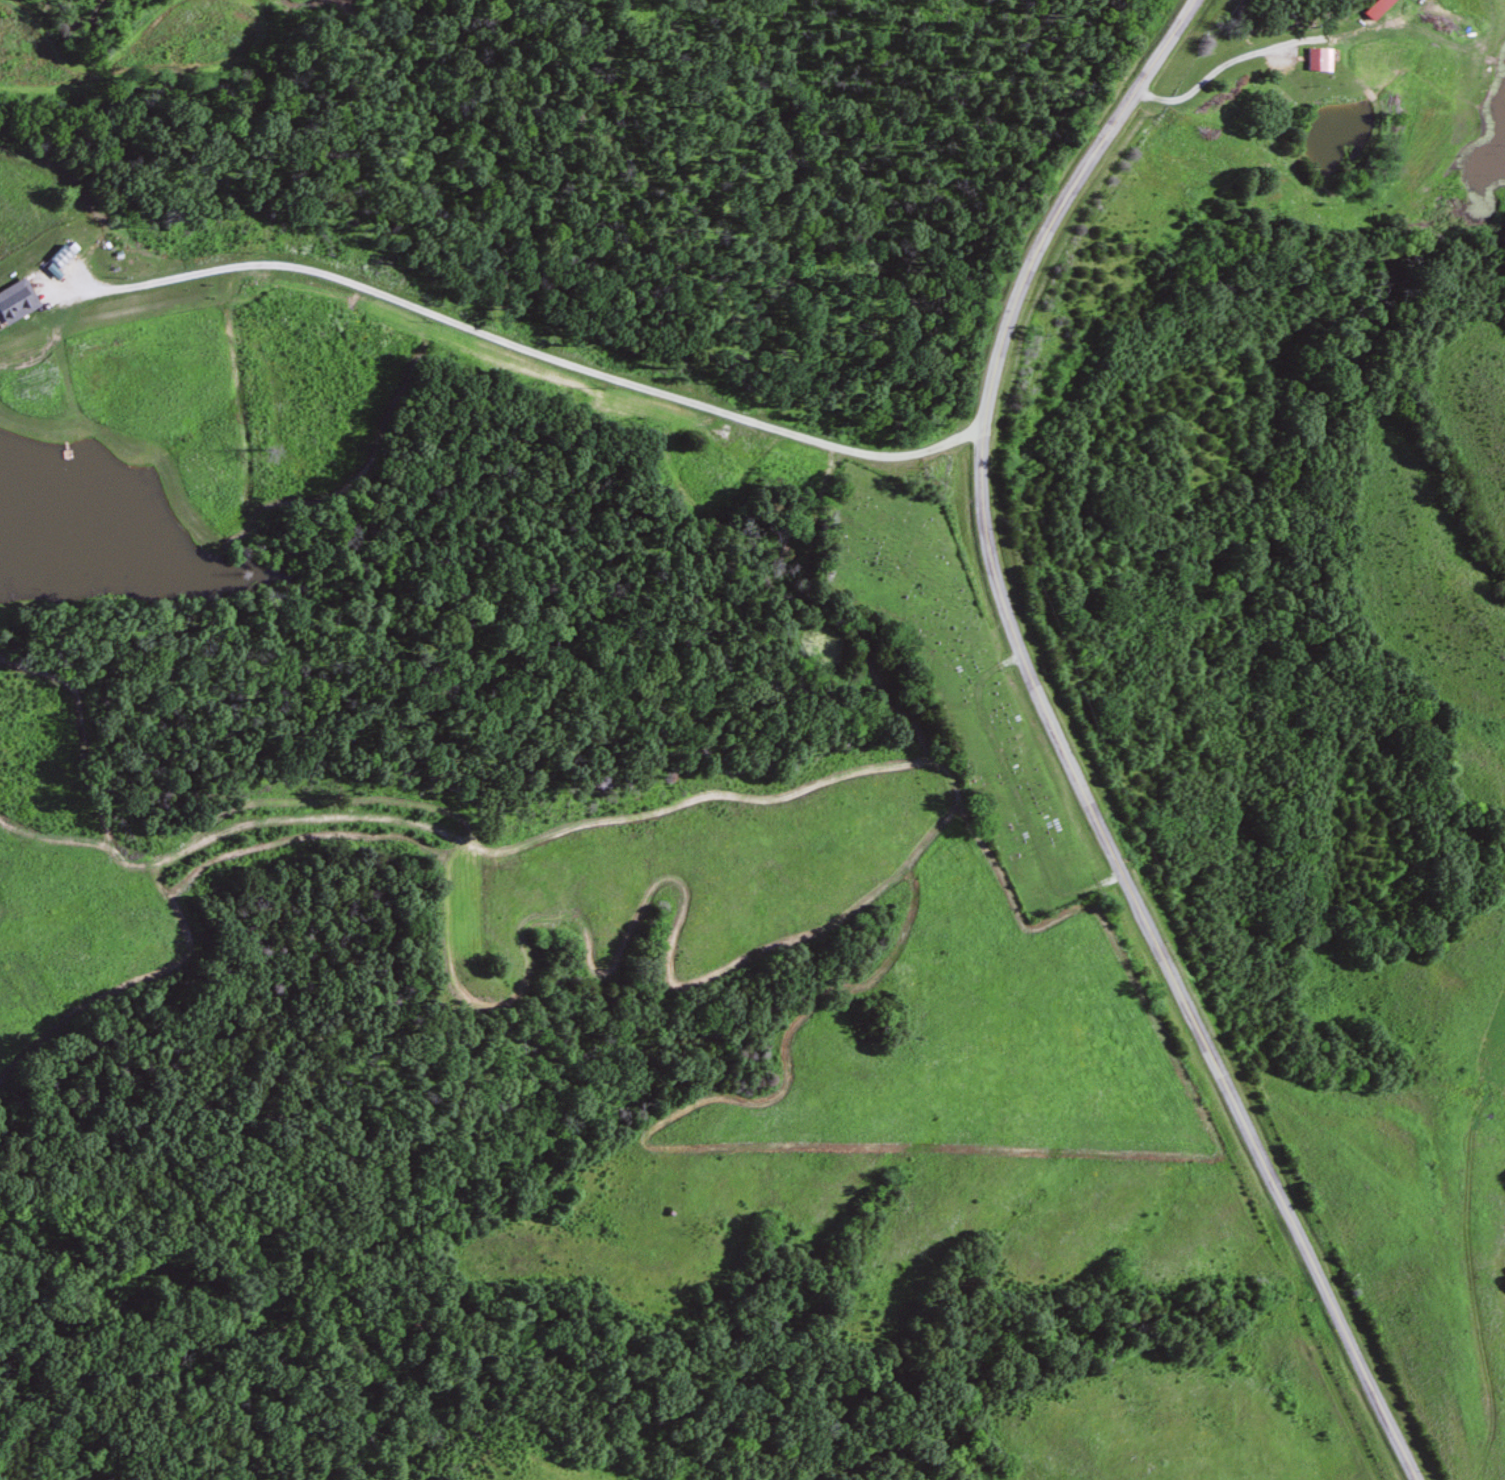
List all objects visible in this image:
building: (1370, 7)
building: (1313, 58)
road: (1210, 77)
building: (58, 255)
building: (14, 300)
road: (493, 341)
park: (955, 675)
road: (1057, 745)

